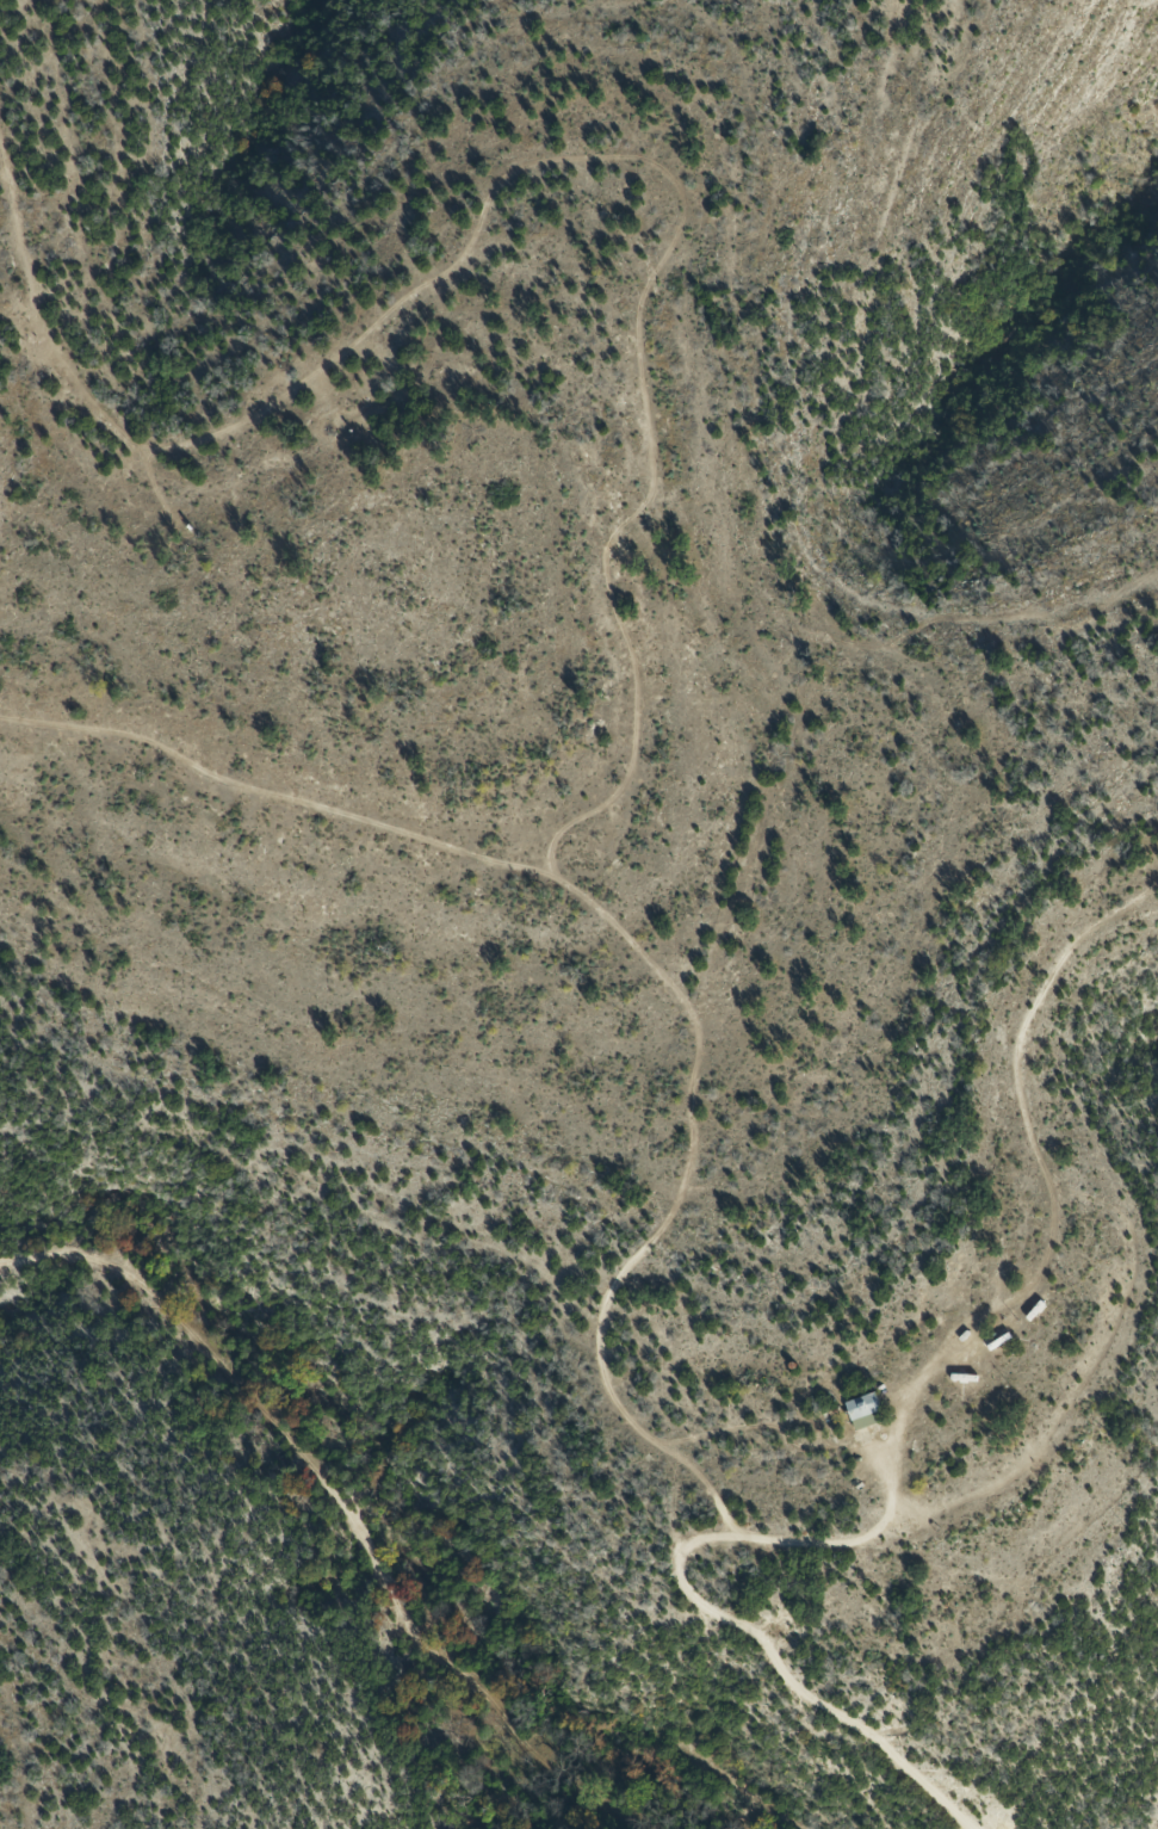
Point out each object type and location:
building: (859, 1411)
road: (705, 1602)

